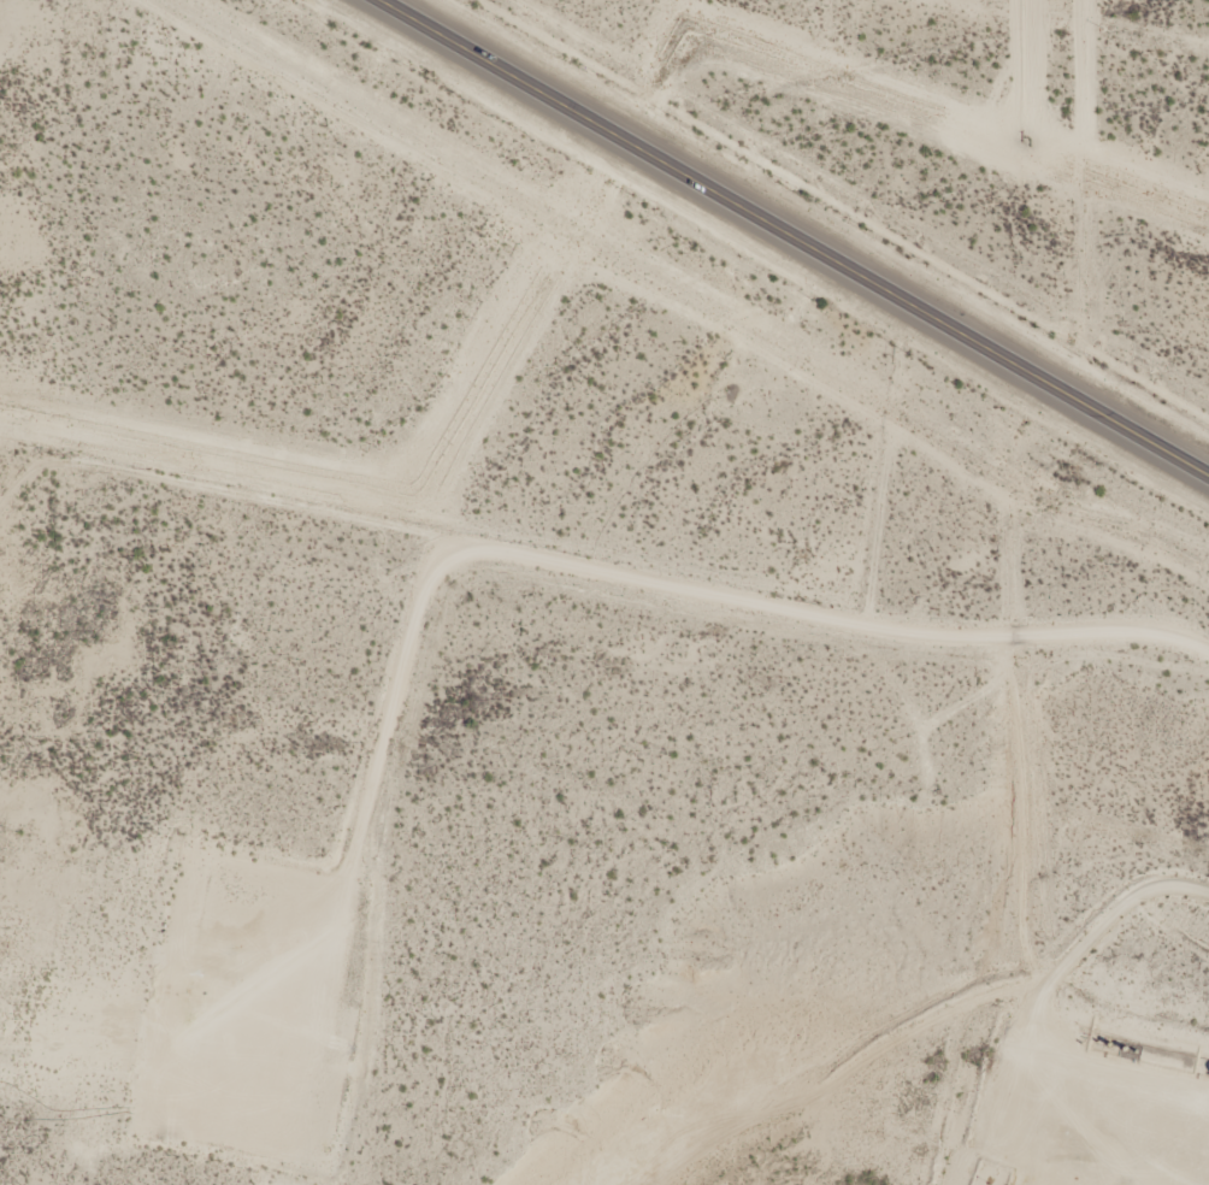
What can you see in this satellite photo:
road: (795, 237)

